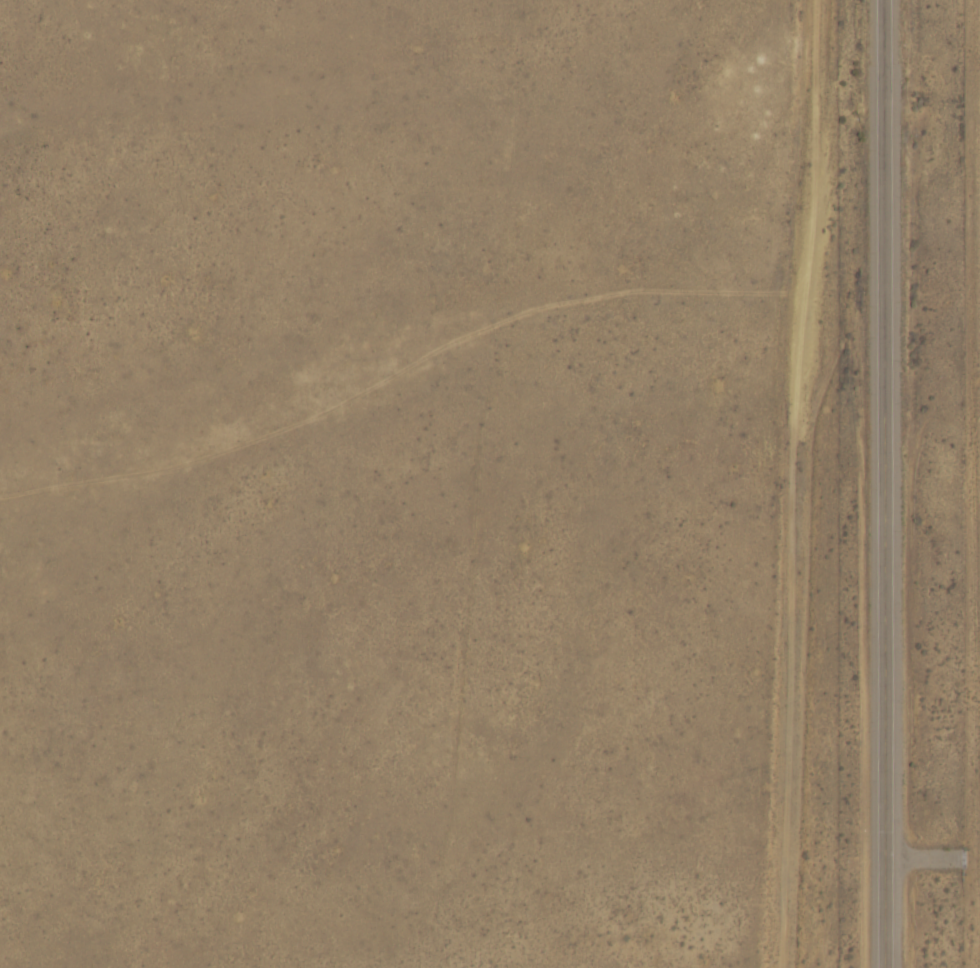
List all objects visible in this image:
road: (899, 484)
road: (793, 613)

